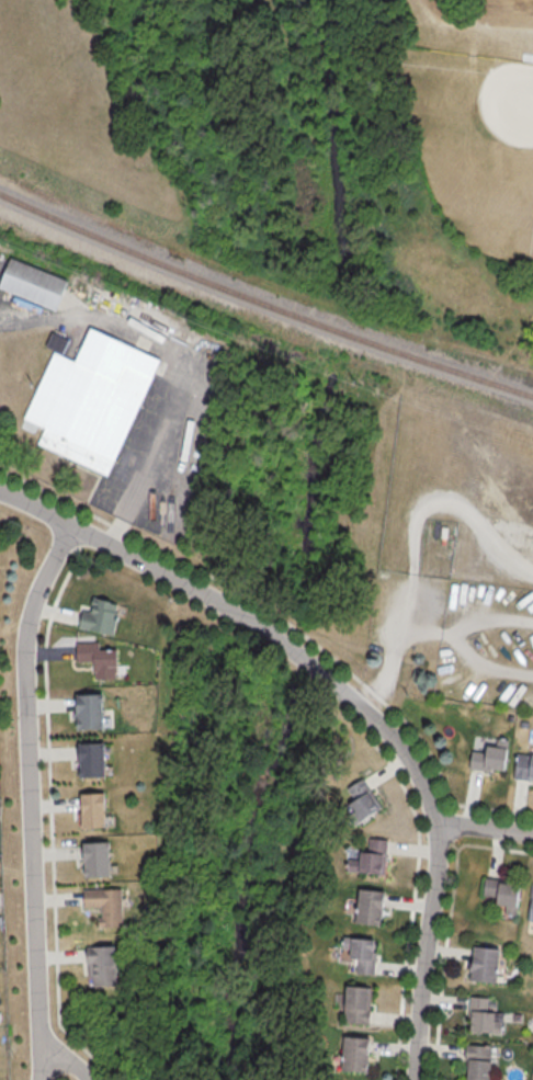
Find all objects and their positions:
road: (480, 20)
park: (478, 143)
park: (445, 149)
building: (30, 284)
railway: (263, 303)
road: (179, 355)
building: (86, 397)
road: (111, 531)
road: (415, 545)
building: (98, 616)
road: (491, 619)
road: (426, 630)
building: (97, 659)
road: (485, 663)
road: (350, 702)
building: (86, 712)
building: (485, 759)
building: (88, 760)
building: (522, 768)
building: (359, 799)
road: (27, 800)
building: (89, 809)
road: (485, 830)
building: (367, 857)
building: (92, 859)
building: (500, 895)
building: (530, 905)
building: (103, 906)
building: (366, 907)
building: (359, 954)
building: (480, 964)
building: (99, 967)
building: (354, 1004)
building: (477, 1014)
building: (352, 1054)
building: (475, 1062)

